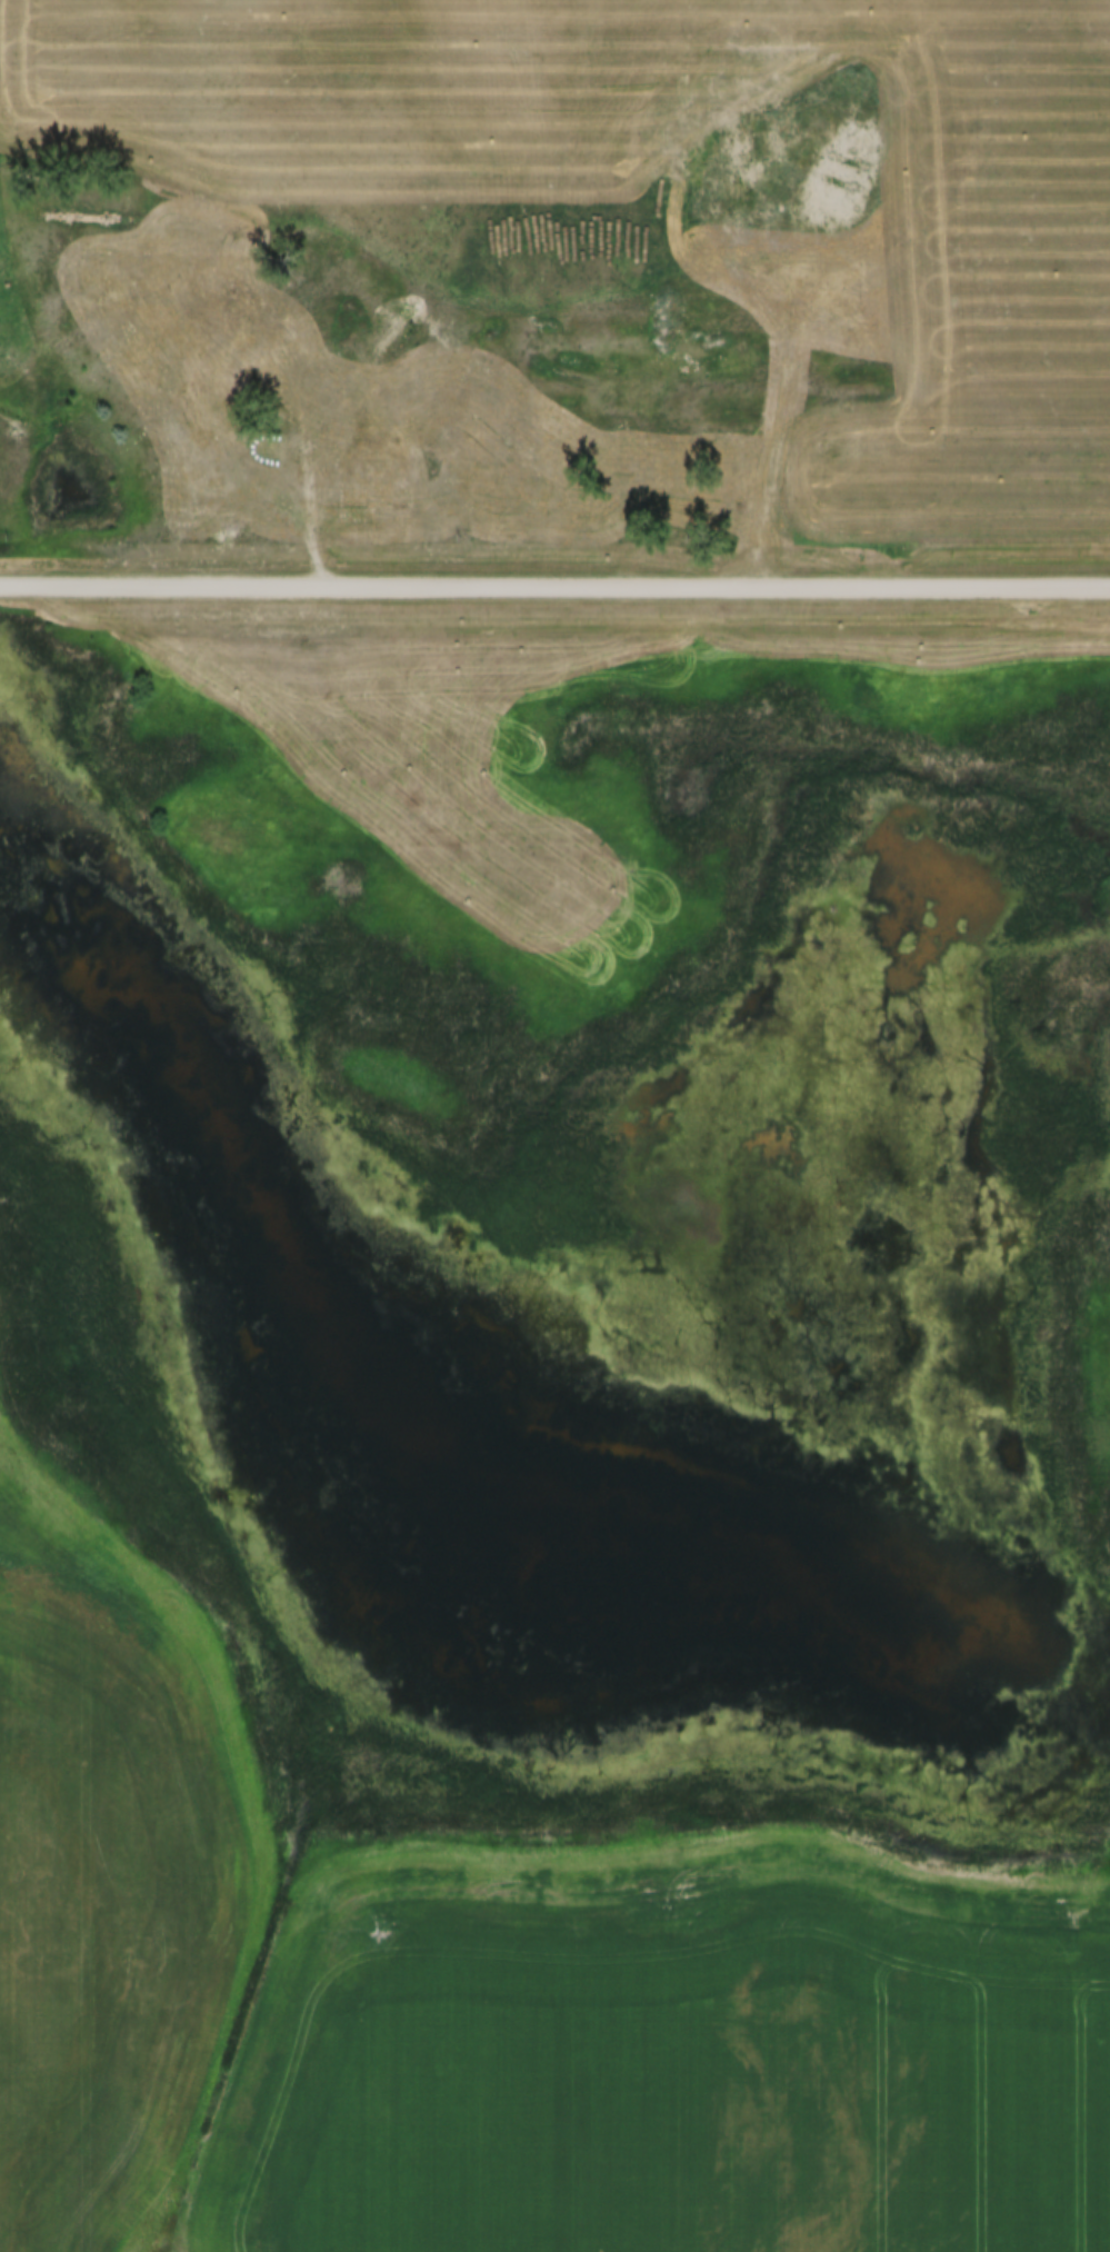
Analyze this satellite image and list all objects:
road: (554, 590)

